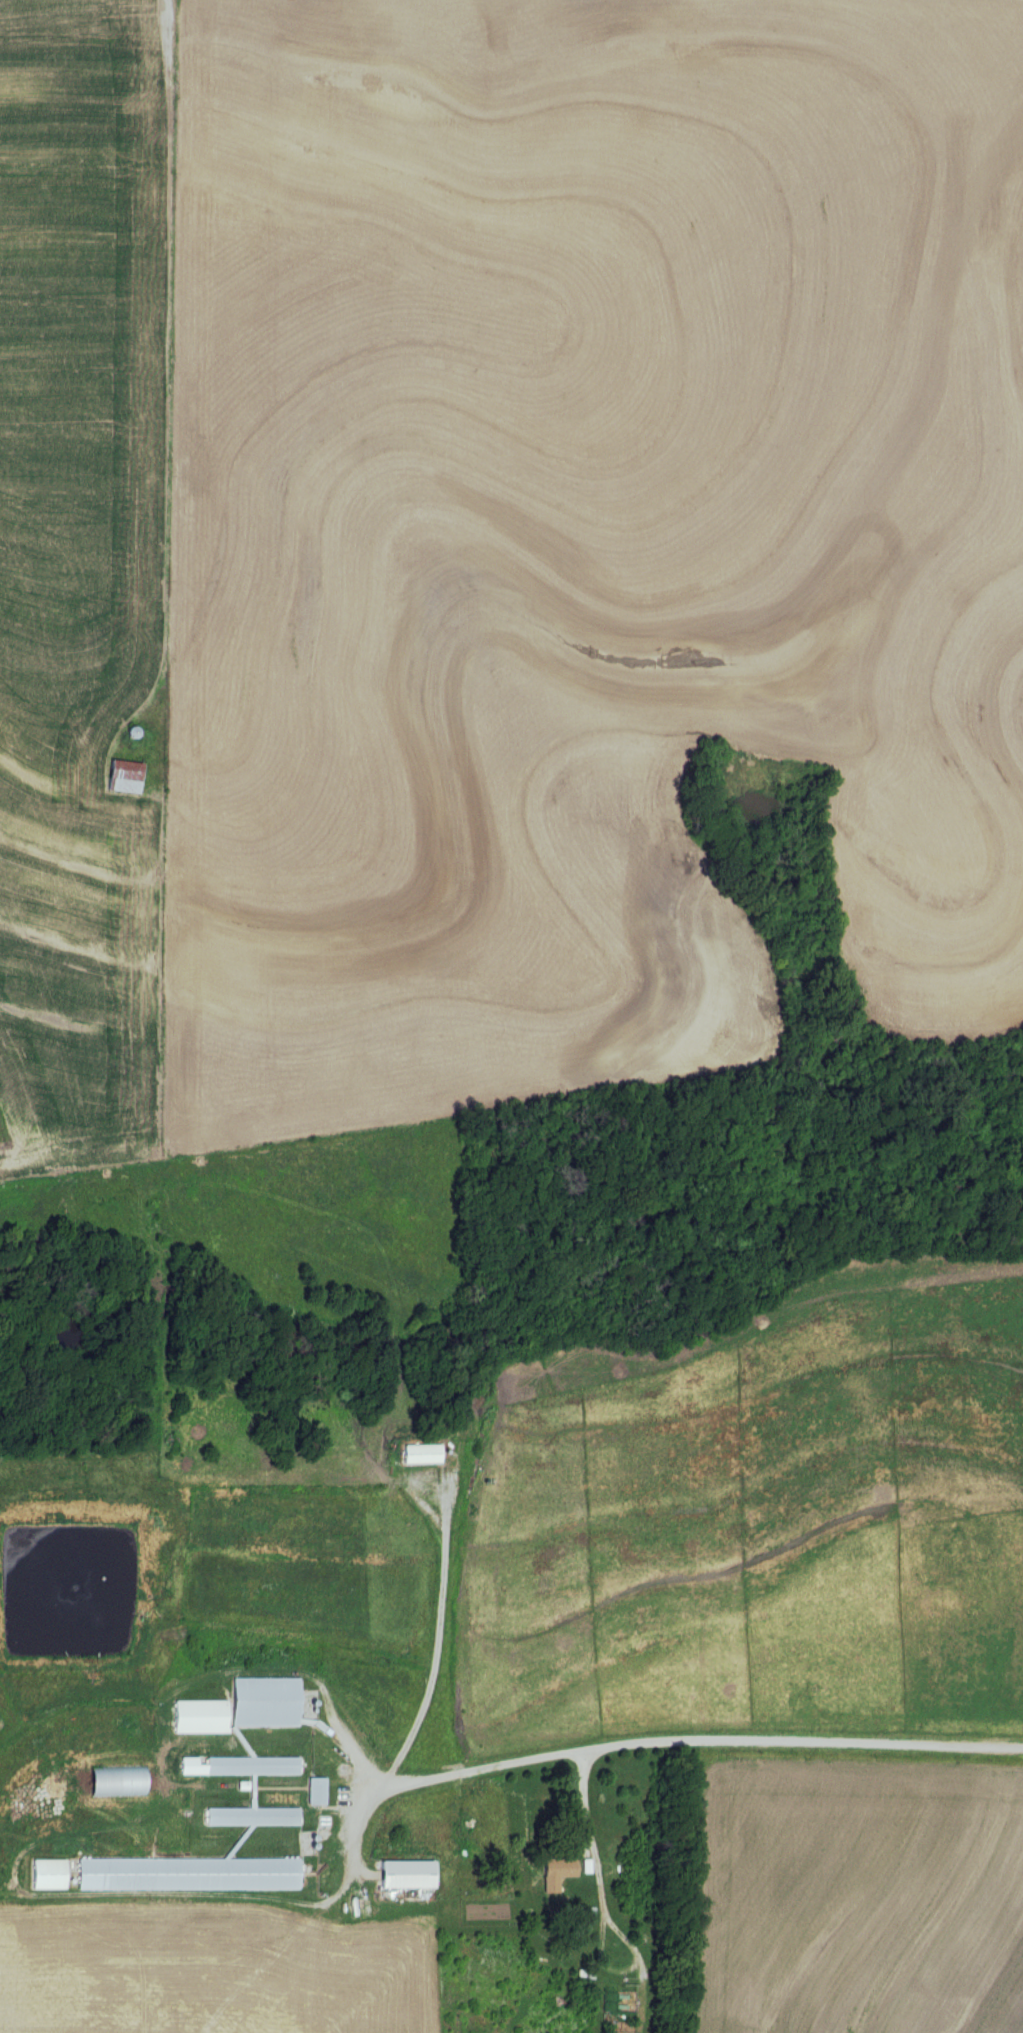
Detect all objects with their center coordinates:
building: (123, 777)
building: (417, 1453)
building: (262, 1703)
road: (538, 1757)
building: (250, 1767)
building: (313, 1792)
road: (579, 1805)
building: (249, 1817)
building: (556, 1868)
building: (45, 1874)
building: (185, 1874)
building: (402, 1875)

